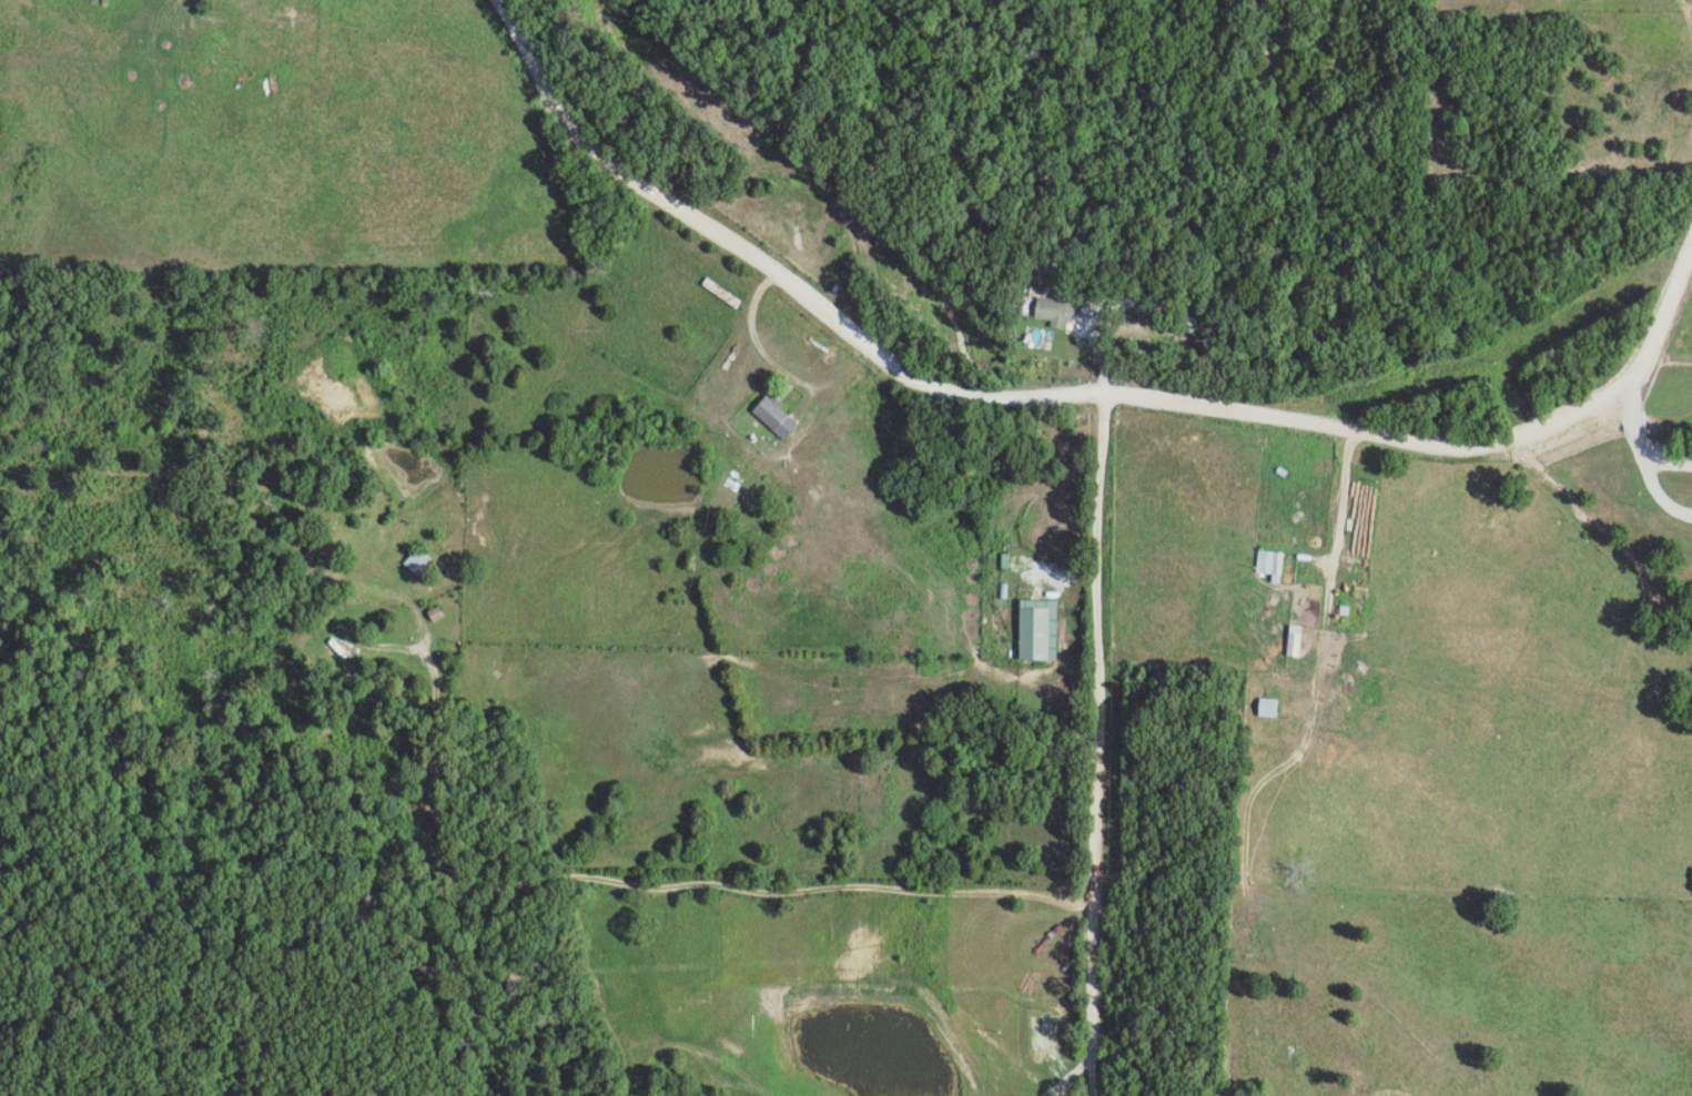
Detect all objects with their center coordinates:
building: (1054, 311)
road: (784, 369)
road: (1064, 395)
building: (773, 416)
road: (1647, 438)
building: (1269, 562)
building: (1035, 629)
building: (1293, 640)
building: (1267, 707)
road: (1106, 758)
road: (1491, 804)
road: (1247, 838)
road: (575, 882)
road: (726, 1061)

